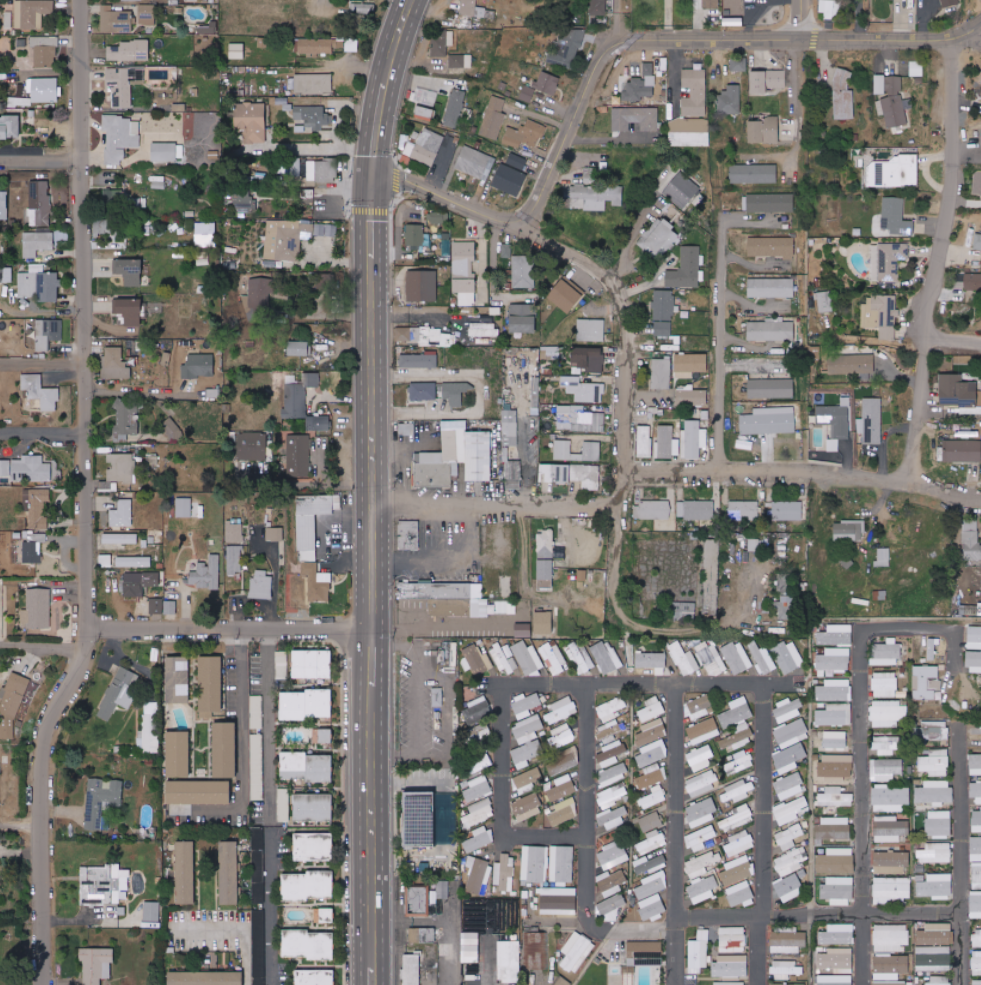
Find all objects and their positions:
building: (133, 0)
building: (174, 2)
building: (947, 2)
building: (710, 3)
building: (598, 7)
building: (826, 8)
building: (837, 8)
building: (475, 9)
building: (362, 11)
building: (32, 13)
building: (147, 14)
building: (8, 19)
building: (116, 20)
building: (733, 21)
road: (802, 21)
building: (208, 29)
road: (695, 42)
building: (441, 43)
road: (945, 44)
building: (351, 45)
road: (967, 45)
building: (315, 46)
building: (566, 46)
building: (129, 50)
building: (45, 51)
building: (237, 51)
building: (460, 60)
building: (738, 64)
building: (916, 69)
road: (387, 73)
building: (767, 81)
building: (547, 82)
building: (314, 83)
building: (124, 84)
building: (641, 84)
building: (46, 89)
building: (694, 92)
building: (527, 93)
building: (843, 95)
building: (426, 96)
building: (730, 99)
building: (20, 101)
building: (893, 101)
building: (179, 107)
building: (455, 107)
building: (425, 111)
building: (313, 116)
road: (799, 117)
building: (493, 118)
building: (635, 118)
building: (252, 120)
building: (10, 126)
building: (764, 130)
building: (689, 132)
building: (524, 134)
building: (121, 137)
building: (425, 147)
road: (308, 149)
building: (165, 151)
road: (372, 157)
road: (42, 159)
building: (517, 161)
building: (476, 163)
road: (440, 165)
building: (295, 168)
building: (325, 170)
building: (893, 171)
building: (595, 173)
building: (754, 173)
building: (510, 180)
building: (158, 184)
building: (681, 190)
building: (114, 194)
road: (450, 196)
building: (593, 197)
building: (41, 201)
building: (768, 202)
building: (245, 203)
building: (4, 205)
building: (896, 217)
building: (440, 218)
building: (104, 226)
building: (210, 233)
building: (414, 234)
building: (286, 239)
building: (661, 239)
building: (427, 240)
building: (977, 241)
building: (37, 243)
building: (446, 247)
building: (771, 247)
building: (506, 250)
building: (888, 261)
road: (940, 264)
building: (686, 269)
building: (129, 271)
building: (464, 272)
building: (523, 272)
building: (6, 274)
building: (972, 282)
building: (39, 284)
building: (422, 285)
building: (771, 287)
building: (258, 296)
building: (566, 296)
building: (824, 301)
building: (129, 310)
building: (663, 313)
building: (881, 314)
building: (523, 318)
road: (634, 321)
building: (483, 329)
building: (591, 330)
building: (771, 330)
building: (47, 333)
building: (425, 336)
building: (299, 348)
road: (952, 349)
building: (551, 352)
road: (723, 357)
building: (166, 358)
building: (590, 358)
building: (420, 360)
building: (115, 363)
building: (851, 364)
building: (690, 365)
road: (43, 366)
building: (199, 366)
building: (661, 374)
building: (312, 380)
building: (770, 388)
road: (477, 390)
building: (584, 390)
building: (40, 391)
building: (423, 391)
road: (139, 392)
building: (214, 392)
building: (958, 392)
building: (455, 393)
building: (692, 397)
building: (295, 404)
building: (579, 419)
building: (872, 421)
building: (318, 422)
building: (126, 423)
building: (766, 423)
building: (834, 423)
building: (510, 428)
building: (173, 429)
building: (406, 429)
road: (43, 433)
building: (693, 439)
building: (644, 441)
building: (666, 442)
building: (251, 447)
building: (592, 448)
building: (298, 451)
building: (962, 451)
building: (457, 456)
road: (527, 457)
road: (372, 461)
building: (121, 467)
building: (28, 468)
building: (512, 472)
building: (558, 473)
road: (806, 474)
building: (591, 478)
road: (307, 483)
road: (624, 487)
road: (87, 498)
road: (495, 500)
building: (37, 508)
building: (652, 510)
building: (695, 510)
building: (743, 510)
building: (788, 510)
building: (122, 513)
building: (310, 523)
building: (849, 530)
building: (235, 533)
building: (275, 534)
building: (408, 535)
building: (120, 538)
building: (972, 542)
building: (34, 548)
building: (548, 555)
building: (883, 557)
building: (105, 560)
building: (234, 560)
building: (134, 562)
road: (446, 563)
road: (616, 564)
building: (711, 573)
building: (206, 574)
building: (138, 583)
building: (317, 583)
building: (262, 585)
building: (435, 590)
building: (477, 591)
building: (786, 602)
building: (163, 607)
building: (506, 607)
building: (483, 608)
building: (684, 610)
road: (503, 620)
building: (543, 622)
road: (231, 627)
building: (523, 630)
road: (704, 630)
building: (974, 634)
building: (836, 635)
road: (44, 646)
building: (932, 649)
building: (886, 653)
building: (606, 656)
building: (553, 657)
building: (580, 657)
building: (737, 657)
building: (788, 657)
building: (527, 658)
building: (710, 658)
building: (762, 658)
building: (502, 659)
building: (683, 659)
building: (477, 660)
building: (834, 660)
building: (652, 661)
building: (974, 662)
building: (312, 664)
building: (282, 665)
building: (178, 680)
building: (926, 682)
building: (885, 684)
building: (211, 686)
road: (503, 686)
building: (835, 690)
building: (119, 692)
road: (421, 695)
building: (438, 697)
building: (320, 703)
building: (12, 704)
building: (294, 705)
building: (526, 705)
road: (445, 707)
building: (700, 707)
building: (610, 709)
building: (652, 709)
building: (788, 709)
building: (478, 710)
building: (561, 710)
building: (887, 713)
building: (835, 715)
road: (268, 723)
building: (737, 724)
building: (610, 729)
building: (703, 731)
building: (650, 732)
road: (856, 732)
building: (931, 732)
building: (151, 733)
building: (792, 733)
building: (316, 736)
building: (326, 736)
building: (561, 736)
building: (974, 737)
building: (835, 739)
building: (527, 741)
building: (886, 744)
building: (226, 750)
building: (611, 751)
road: (241, 753)
building: (652, 753)
building: (178, 754)
building: (700, 758)
building: (789, 758)
road: (585, 760)
building: (565, 761)
building: (740, 761)
building: (480, 763)
building: (935, 763)
building: (975, 764)
building: (306, 767)
building: (836, 767)
building: (885, 769)
building: (613, 774)
building: (651, 775)
building: (527, 780)
building: (702, 783)
building: (789, 786)
building: (478, 788)
building: (562, 788)
building: (976, 791)
building: (200, 792)
building: (737, 792)
building: (934, 792)
building: (612, 795)
building: (653, 797)
building: (835, 797)
building: (890, 798)
building: (101, 802)
building: (283, 805)
building: (314, 807)
building: (527, 807)
building: (790, 809)
building: (564, 812)
building: (479, 813)
building: (701, 813)
building: (613, 817)
building: (737, 818)
building: (421, 819)
building: (976, 820)
building: (650, 822)
building: (938, 824)
building: (833, 828)
building: (890, 829)
building: (789, 837)
building: (478, 839)
building: (700, 839)
building: (651, 842)
building: (739, 843)
building: (258, 844)
building: (314, 847)
building: (975, 849)
building: (935, 853)
building: (612, 855)
road: (959, 855)
building: (790, 861)
building: (836, 861)
building: (891, 862)
building: (534, 864)
building: (562, 864)
building: (649, 864)
building: (738, 870)
road: (374, 871)
building: (186, 873)
building: (229, 873)
building: (504, 873)
building: (478, 874)
building: (976, 876)
building: (696, 878)
building: (611, 882)
building: (104, 885)
building: (652, 885)
building: (309, 886)
building: (935, 886)
building: (258, 887)
building: (788, 887)
building: (891, 889)
building: (838, 890)
building: (741, 894)
road: (676, 896)
building: (447, 898)
building: (419, 900)
building: (559, 901)
road: (267, 905)
building: (975, 905)
building: (612, 907)
building: (652, 907)
building: (152, 912)
road: (910, 914)
road: (238, 929)
building: (936, 934)
building: (428, 935)
building: (838, 935)
building: (890, 938)
building: (977, 938)
building: (733, 939)
building: (787, 940)
building: (309, 945)
building: (258, 947)
building: (470, 948)
road: (758, 949)
building: (533, 951)
building: (577, 952)
building: (646, 952)
building: (698, 953)
building: (934, 958)
building: (837, 960)
building: (508, 961)
building: (976, 962)
building: (97, 965)
building: (731, 966)
building: (890, 966)
building: (786, 968)
building: (412, 970)
building: (316, 977)
building: (206, 978)
building: (621, 979)
building: (837, 980)
building: (939, 980)
building: (563, 981)
building: (977, 982)
building: (445, 983)
building: (730, 983)
building: (890, 983)
building: (786, 984)

